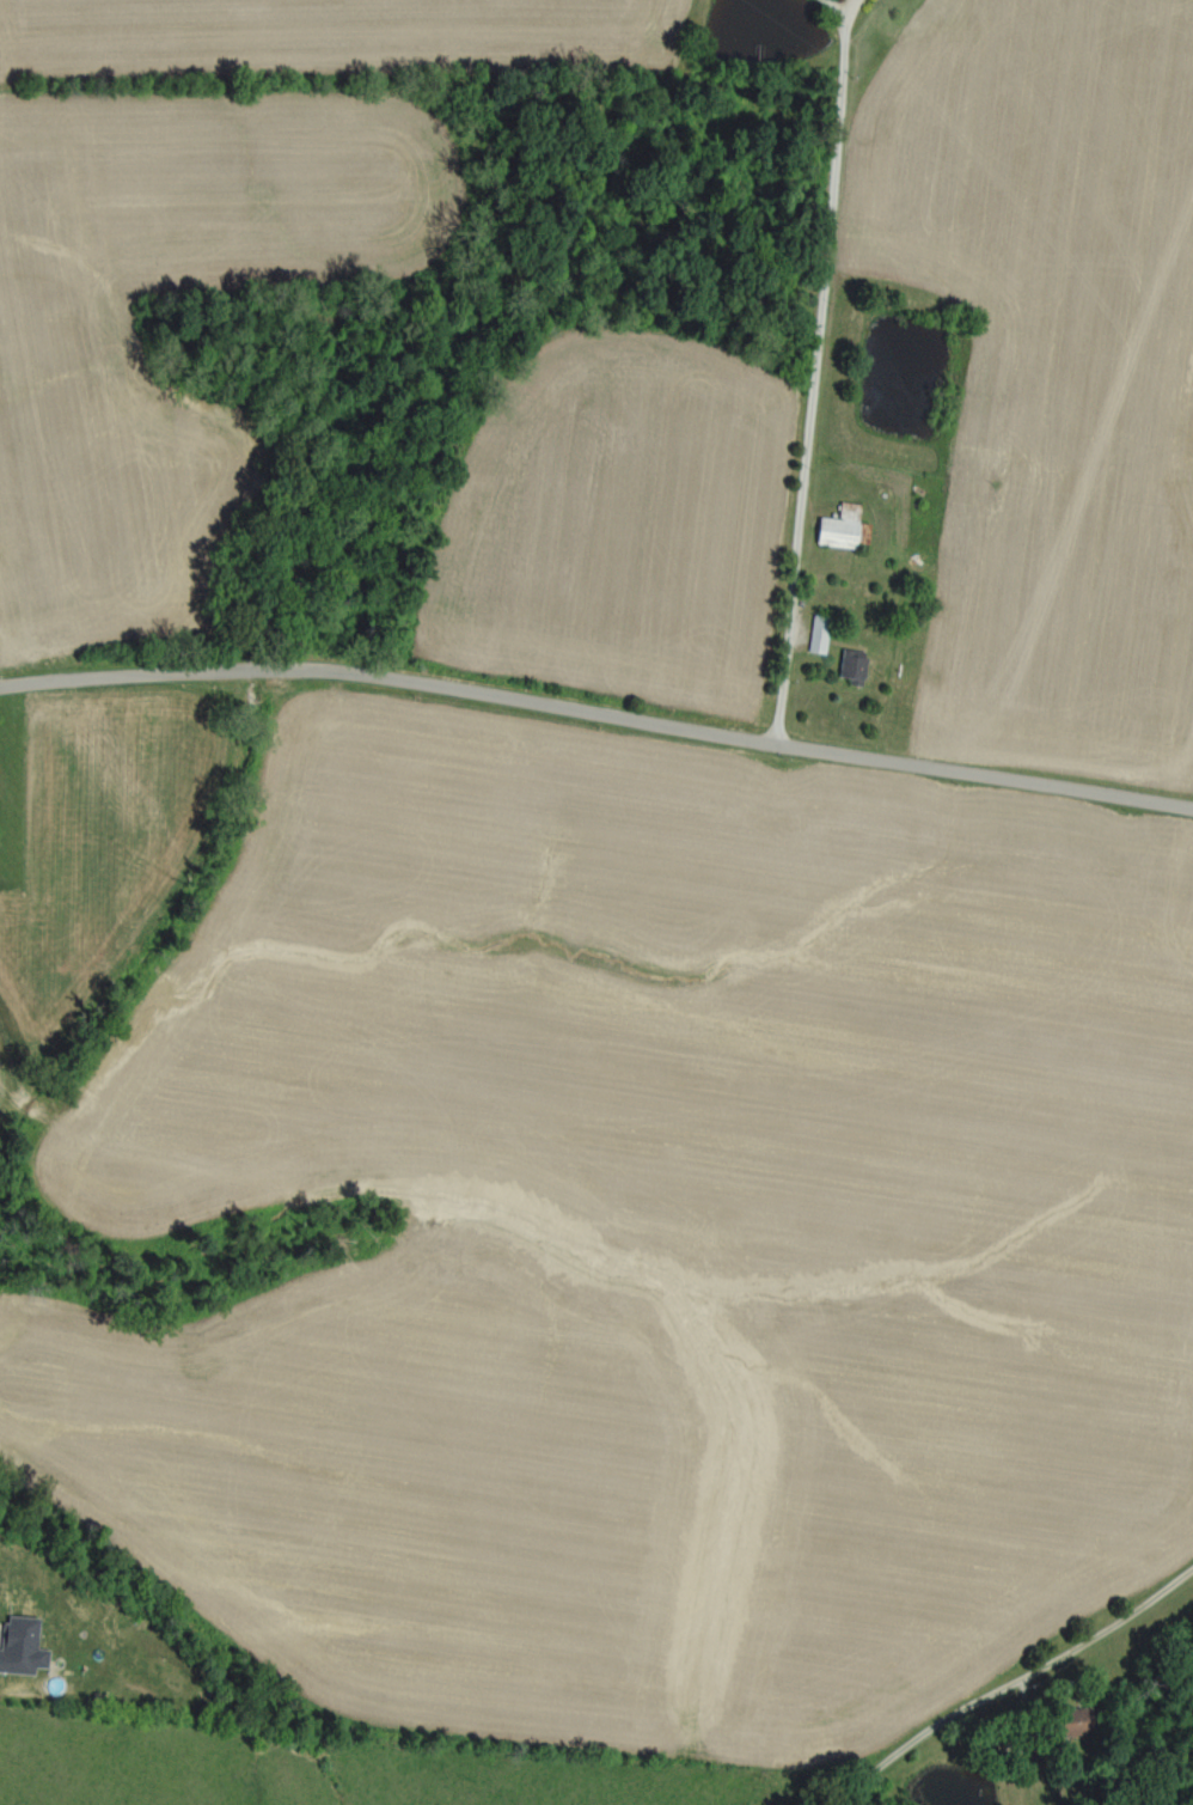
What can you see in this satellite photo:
road: (815, 17)
road: (814, 374)
building: (836, 526)
building: (815, 635)
building: (849, 666)
road: (598, 714)
building: (18, 1645)
road: (1012, 1684)
building: (1067, 1720)

